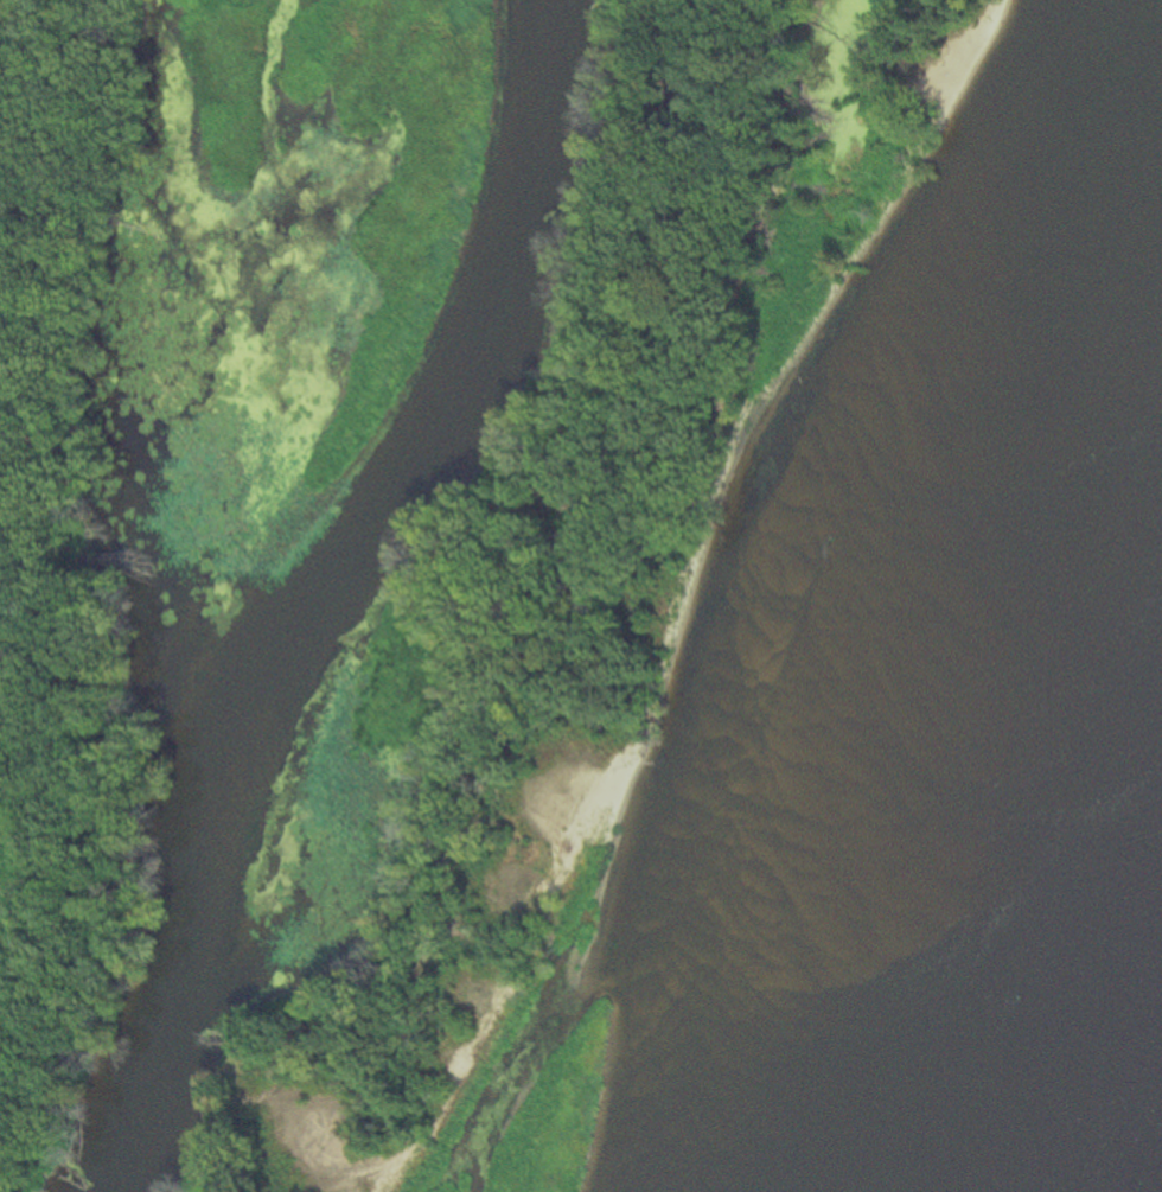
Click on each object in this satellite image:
river: (1088, 986)

